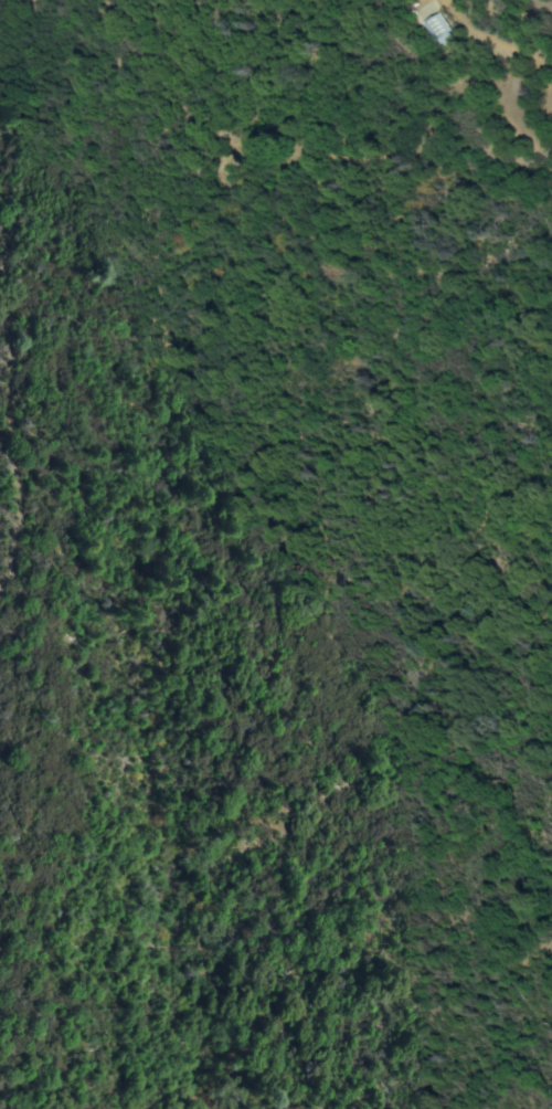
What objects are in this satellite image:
building: (440, 30)

